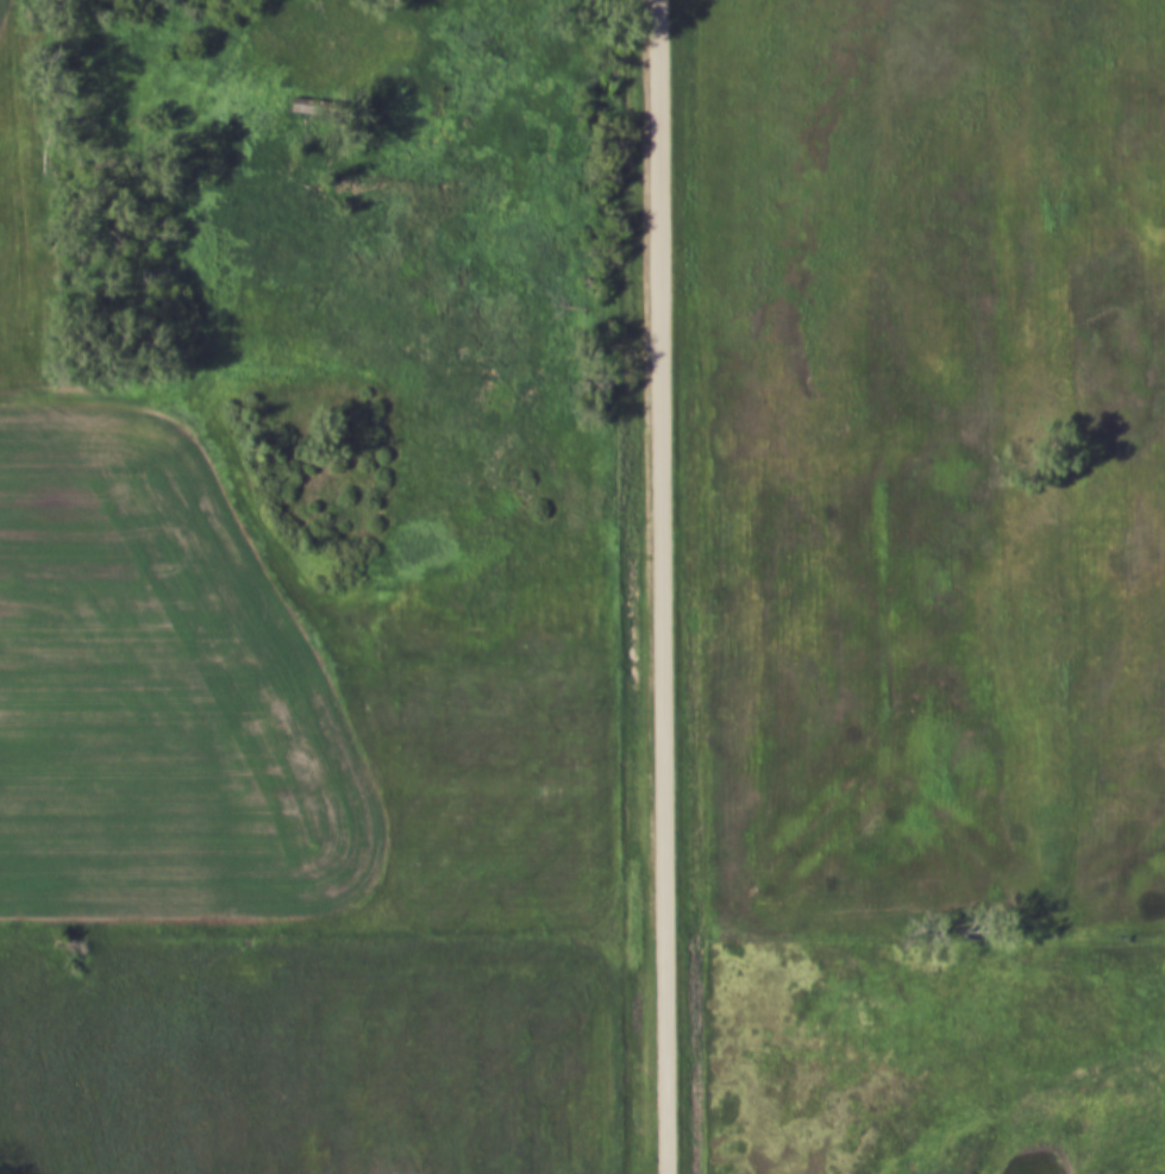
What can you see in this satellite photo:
road: (662, 586)

